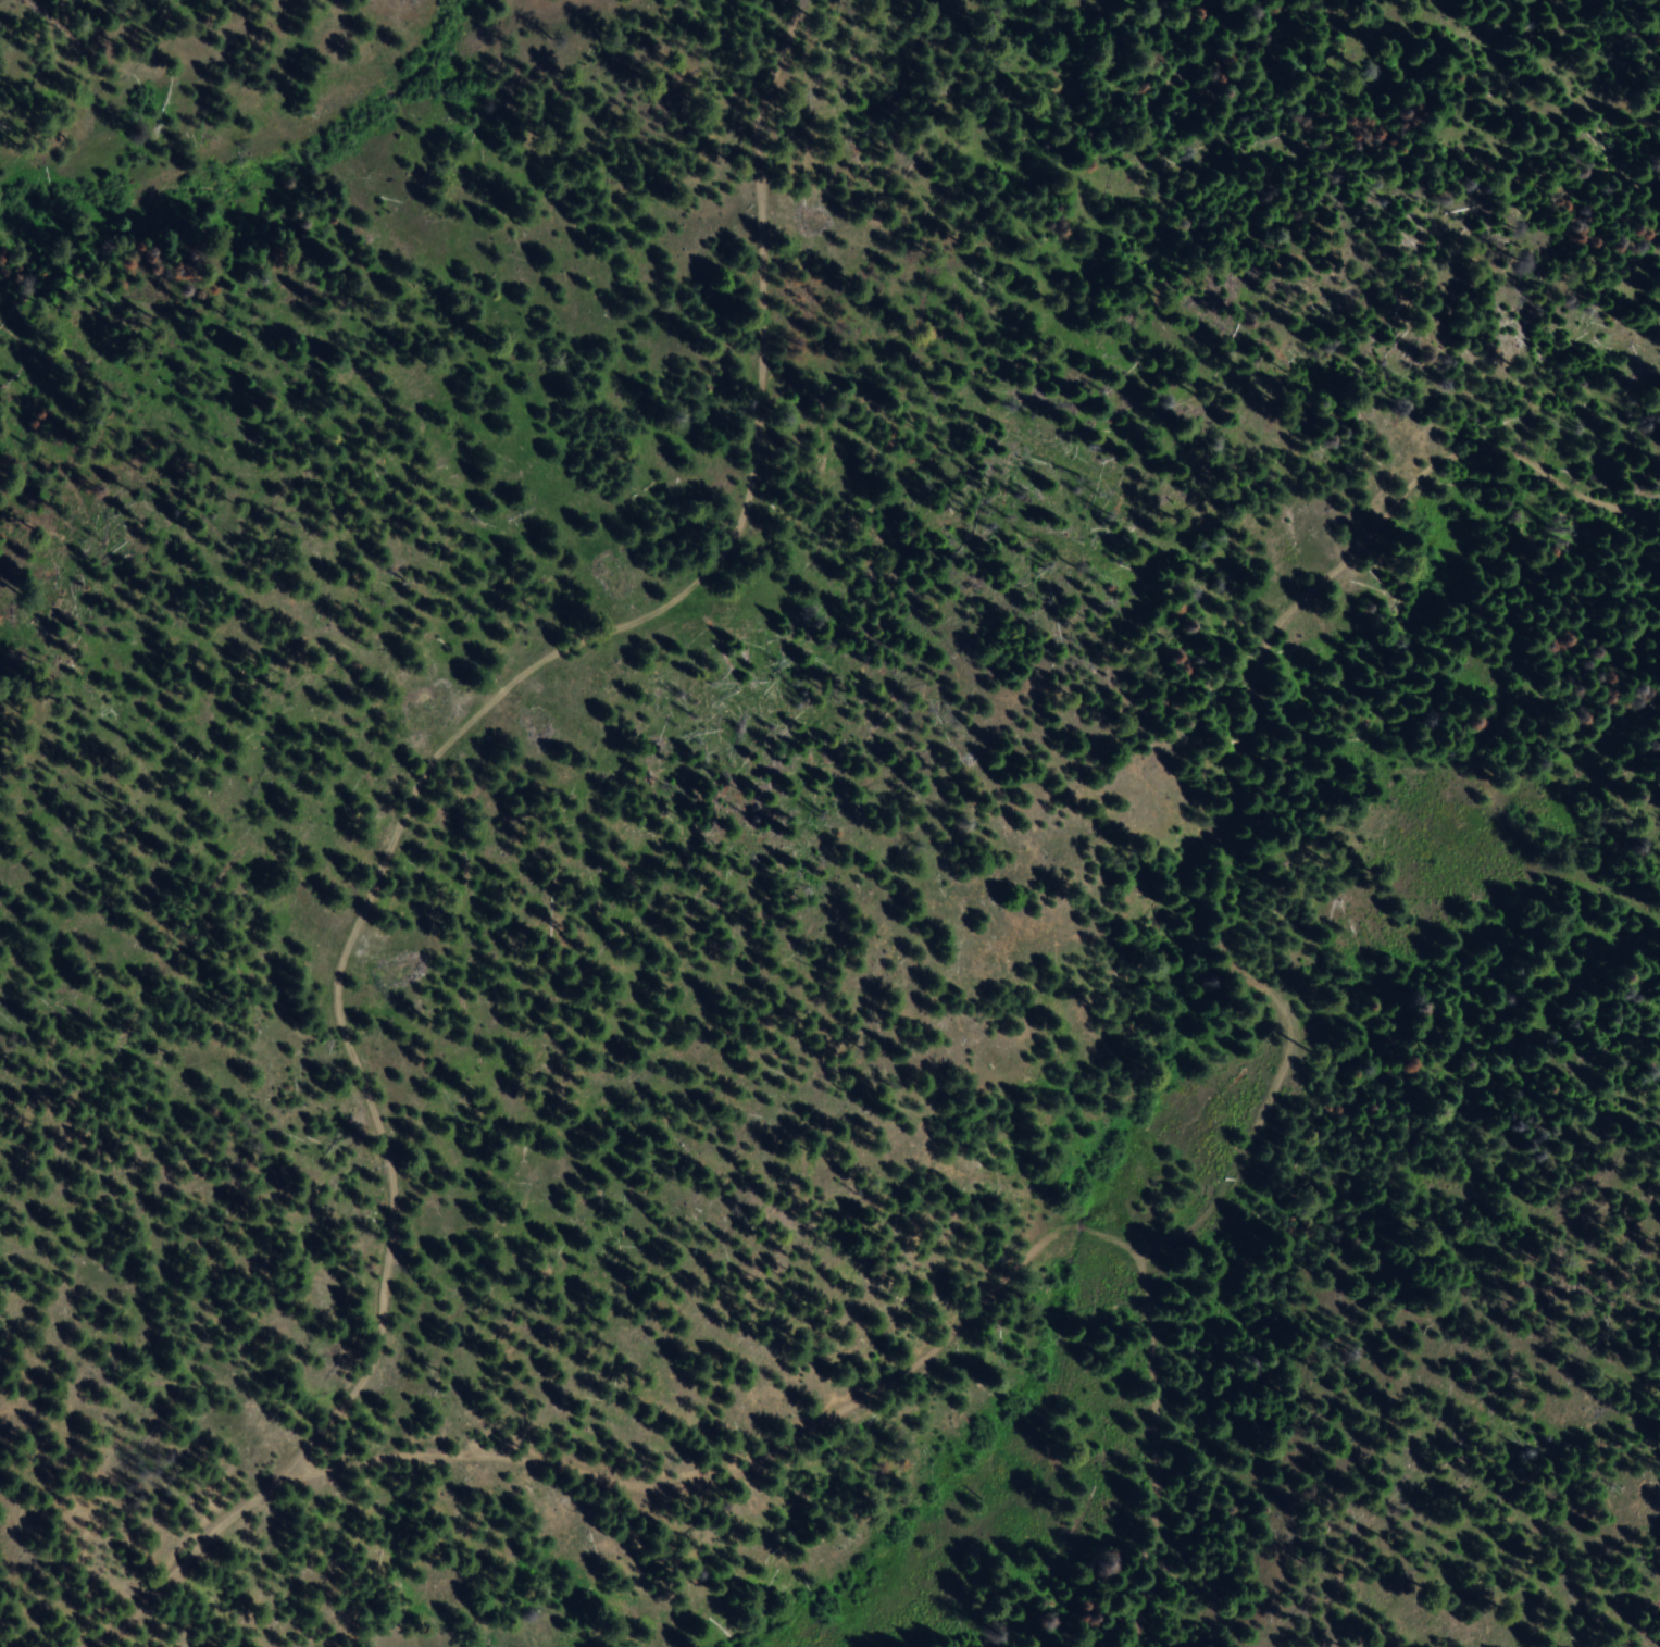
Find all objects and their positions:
road: (1244, 744)
road: (378, 831)
road: (898, 1373)

